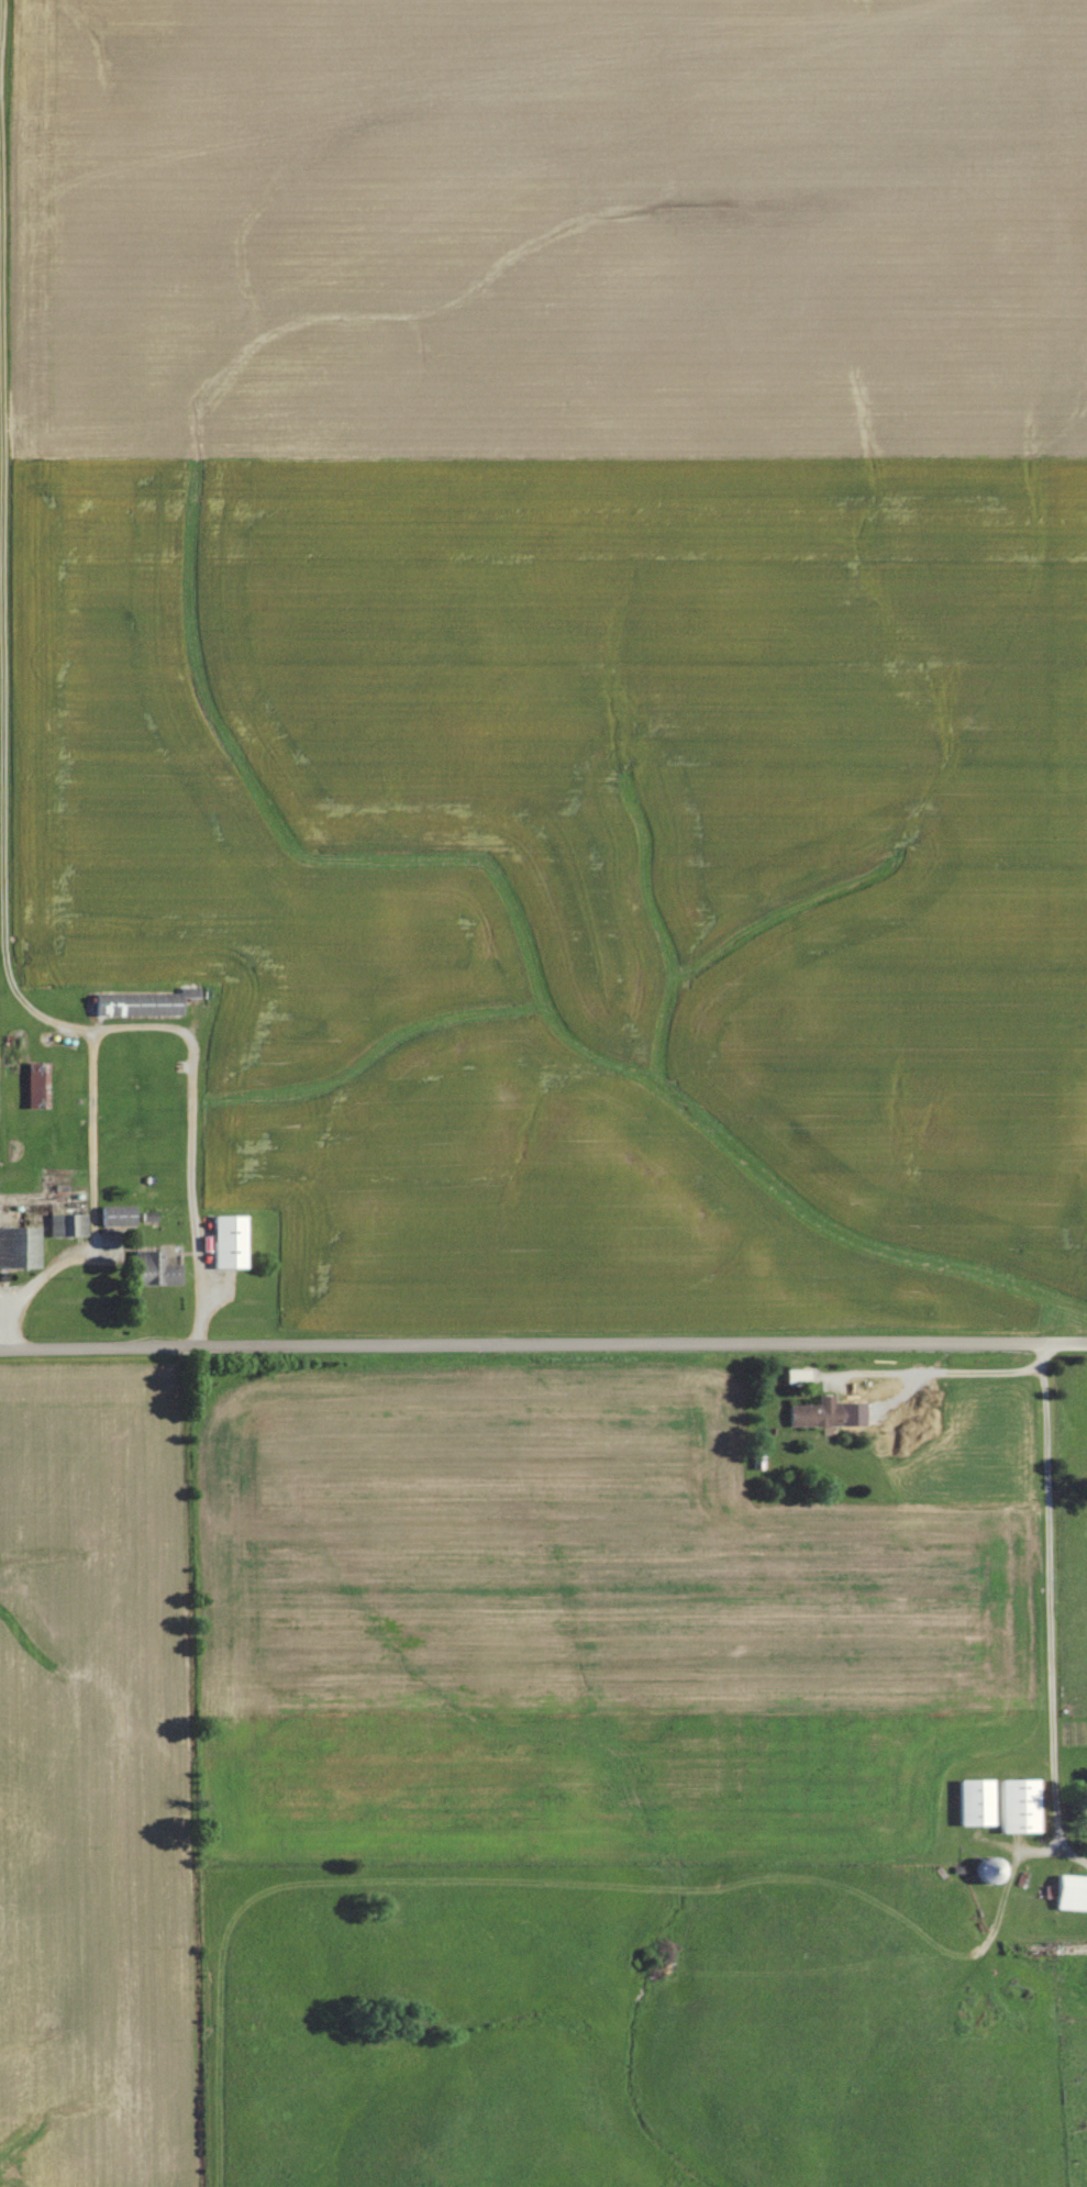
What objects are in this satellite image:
building: (140, 1006)
building: (36, 1081)
building: (117, 1215)
building: (67, 1225)
building: (228, 1242)
building: (19, 1246)
building: (153, 1269)
road: (543, 1351)
building: (814, 1413)
road: (1054, 1616)
building: (974, 1802)
building: (1018, 1807)
building: (1072, 1894)

